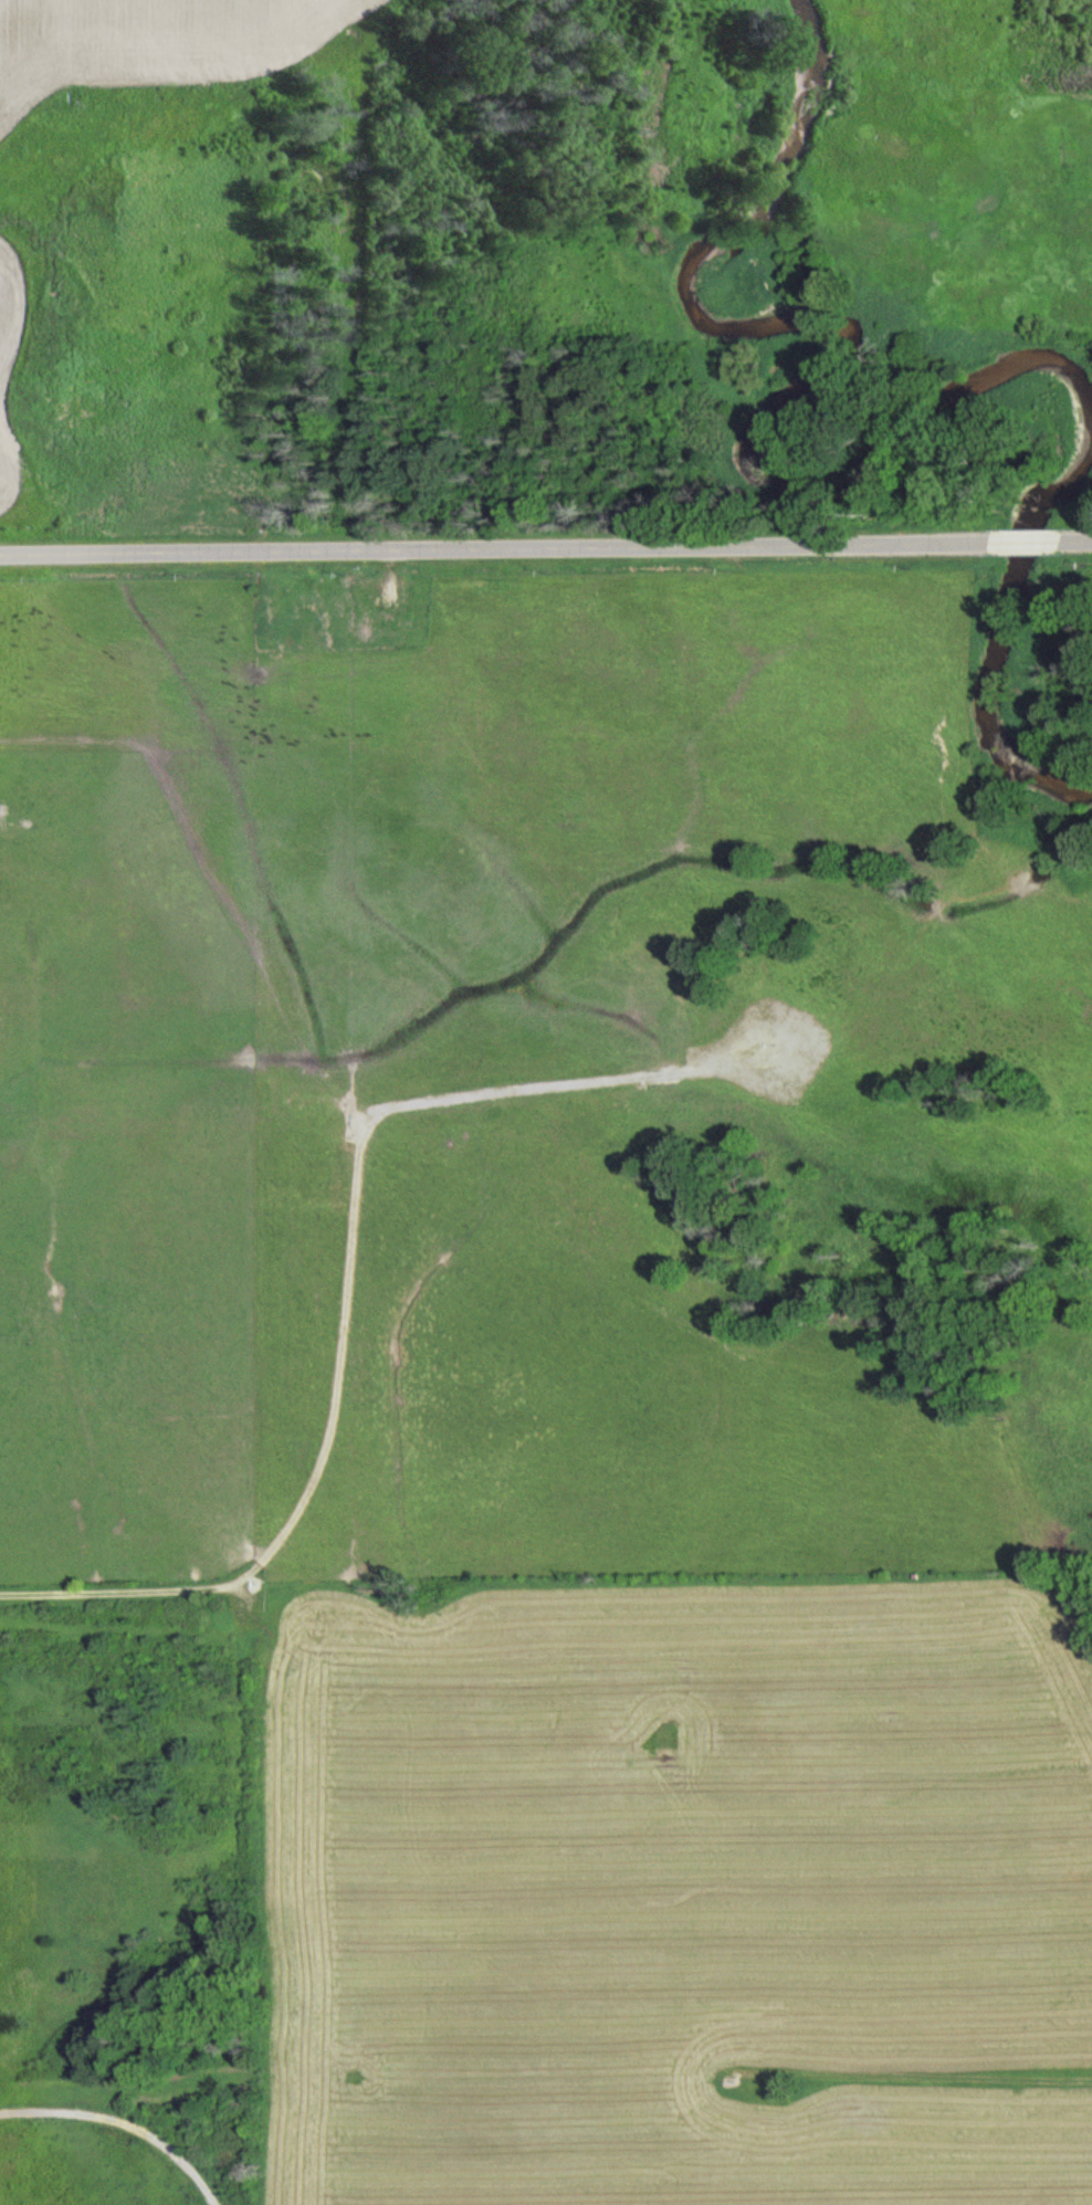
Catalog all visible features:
river: (846, 484)
road: (1075, 540)
road: (996, 542)
road: (1022, 542)
road: (1050, 542)
road: (493, 544)

